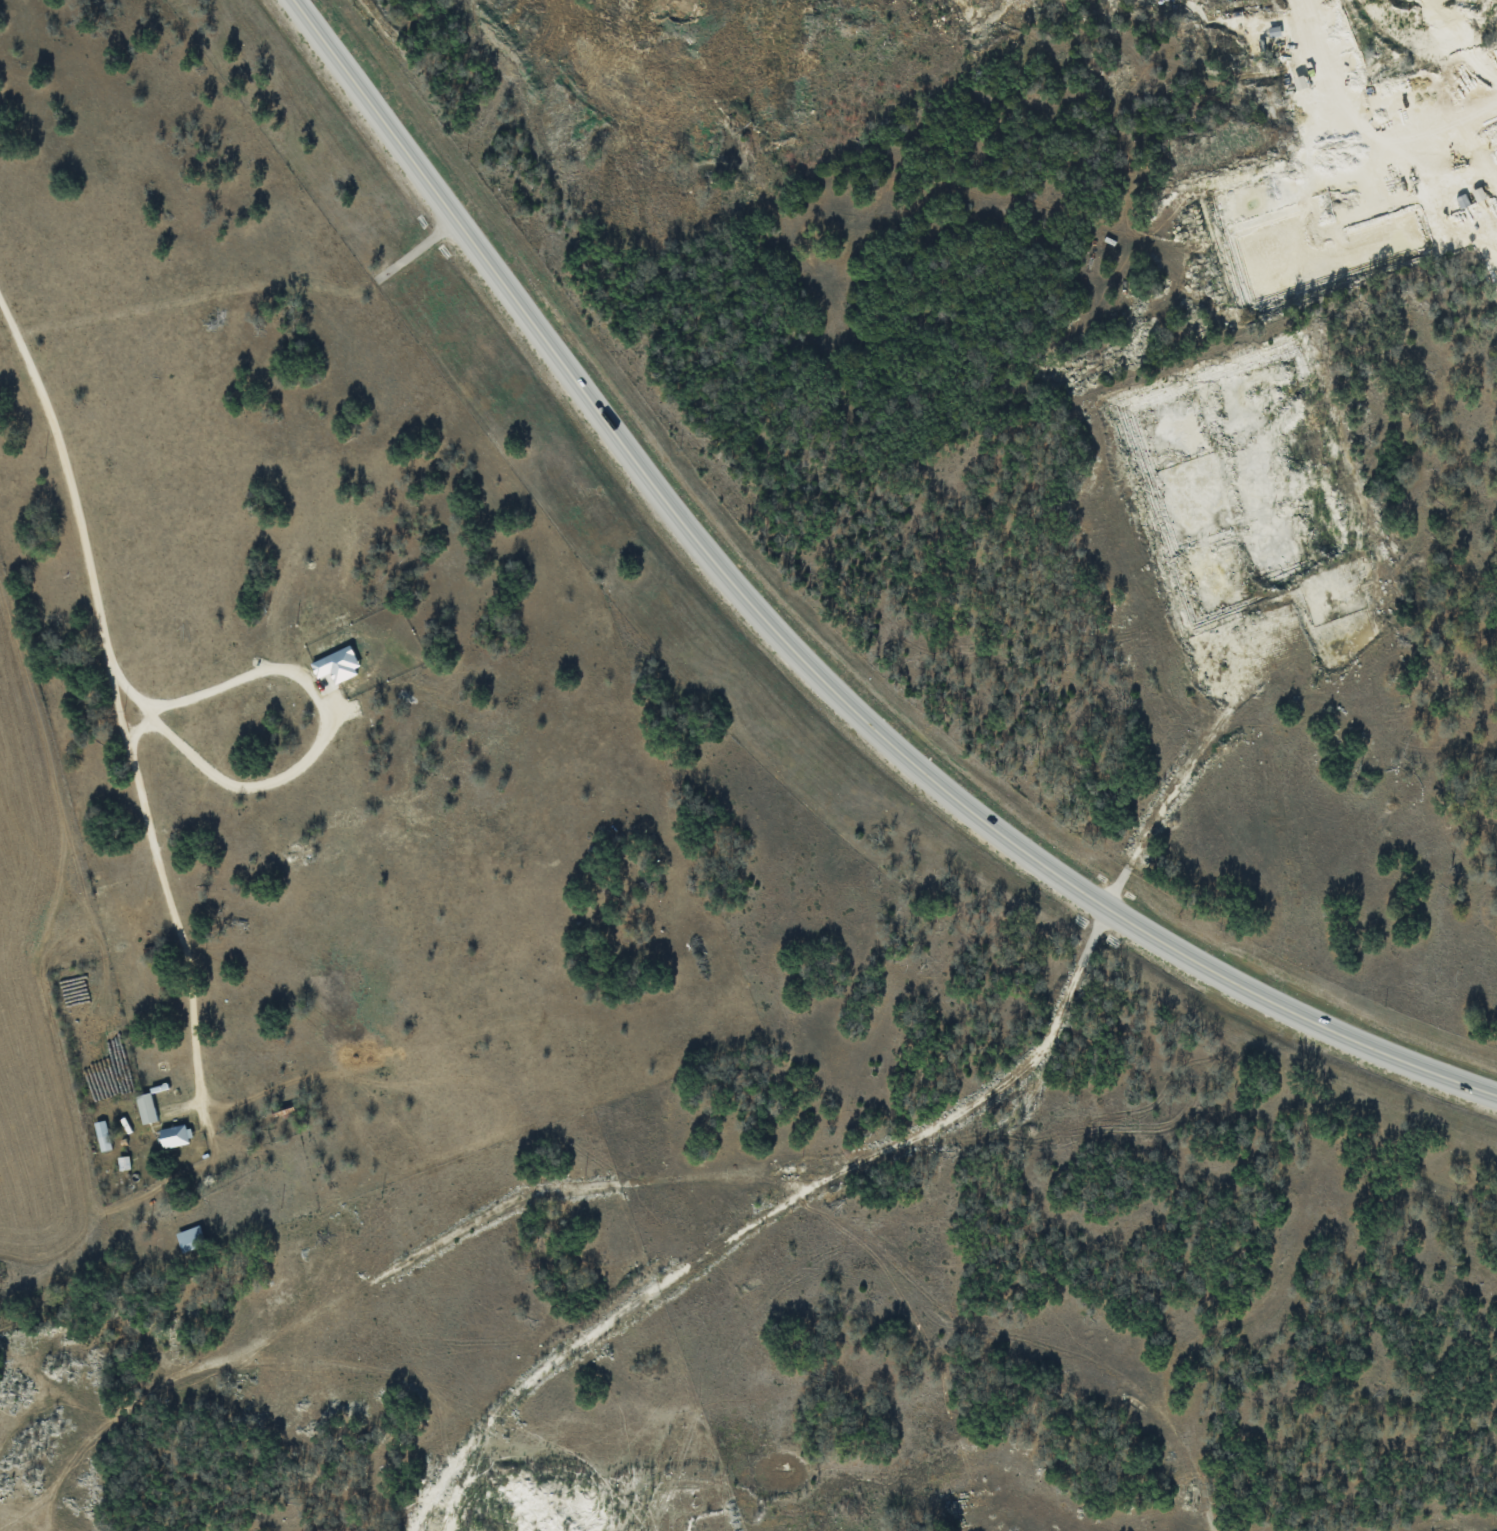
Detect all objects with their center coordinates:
road: (1459, 125)
road: (798, 658)
building: (336, 664)
road: (116, 713)
road: (143, 729)
road: (314, 759)
building: (145, 1107)
building: (102, 1135)
building: (174, 1135)
building: (189, 1238)

